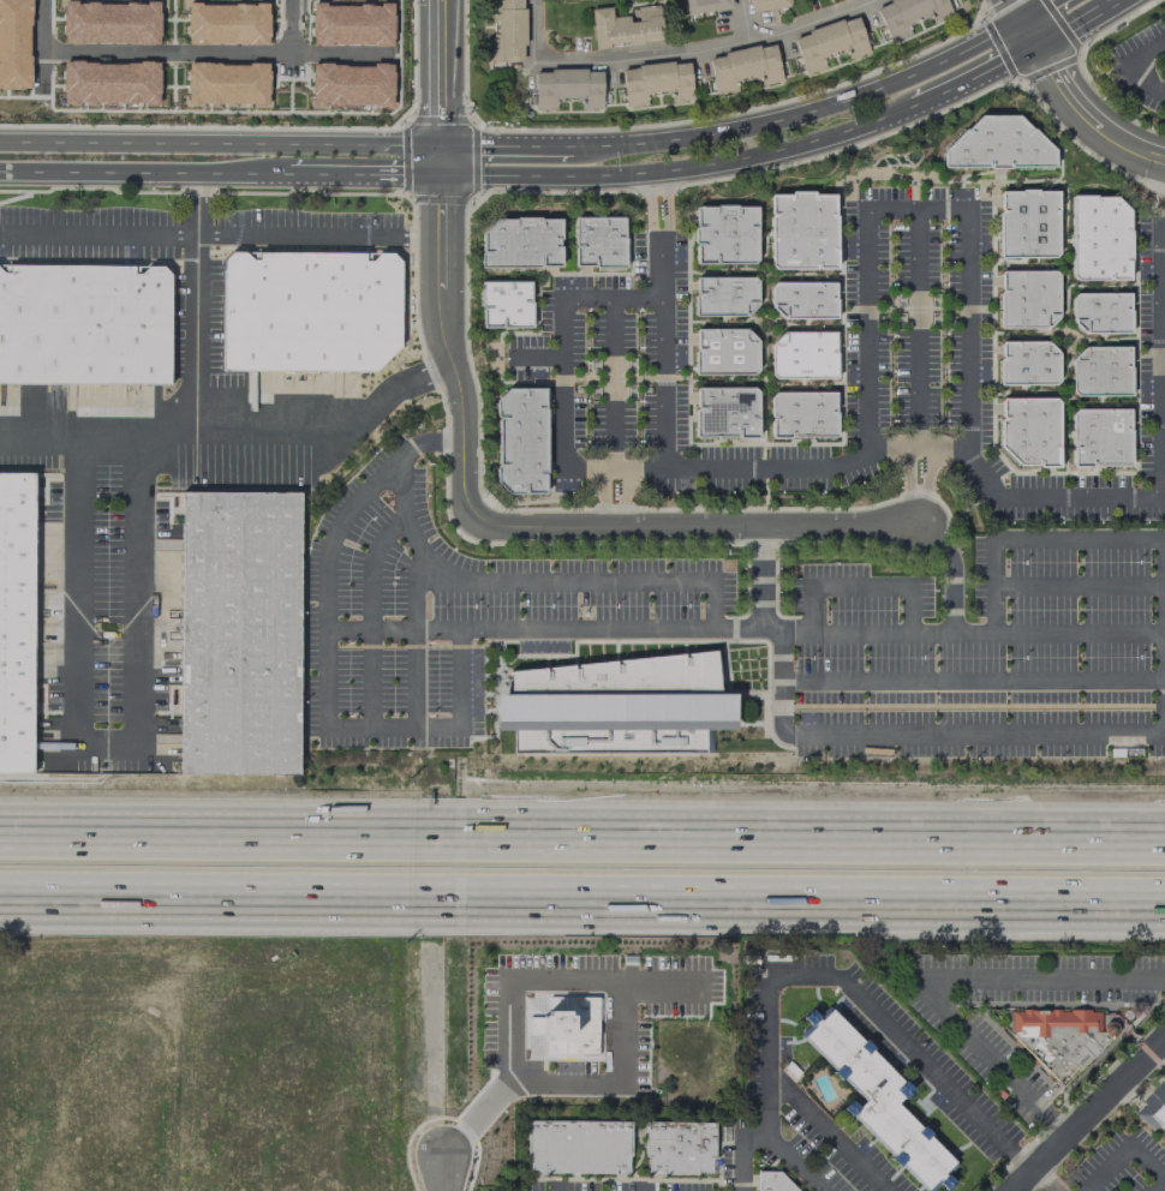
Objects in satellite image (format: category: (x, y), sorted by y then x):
building: (766, 4)
building: (705, 5)
road: (1034, 8)
building: (908, 14)
road: (746, 20)
building: (109, 22)
building: (226, 23)
road: (1077, 23)
building: (351, 24)
road: (42, 25)
building: (625, 26)
building: (506, 31)
road: (536, 31)
building: (829, 43)
building: (14, 44)
road: (709, 49)
road: (165, 52)
road: (309, 54)
road: (1129, 65)
building: (743, 67)
road: (976, 78)
building: (109, 82)
building: (226, 84)
building: (349, 84)
building: (656, 84)
building: (567, 88)
road: (1071, 97)
road: (805, 109)
road: (220, 143)
building: (998, 145)
road: (507, 146)
road: (681, 169)
road: (144, 172)
road: (365, 174)
road: (1163, 193)
road: (920, 210)
building: (1027, 223)
building: (802, 229)
road: (220, 233)
building: (725, 235)
building: (1099, 239)
building: (520, 243)
building: (598, 243)
road: (441, 263)
building: (723, 295)
building: (1027, 298)
building: (802, 299)
building: (506, 305)
building: (309, 311)
building: (1100, 313)
building: (84, 323)
road: (918, 331)
road: (560, 333)
building: (724, 351)
building: (802, 354)
road: (534, 360)
building: (1027, 363)
building: (1100, 371)
road: (214, 409)
road: (610, 412)
building: (725, 412)
building: (802, 413)
building: (1029, 430)
road: (102, 437)
building: (1100, 437)
building: (520, 442)
road: (441, 443)
road: (894, 451)
road: (945, 453)
road: (609, 468)
road: (918, 489)
road: (335, 522)
road: (407, 525)
road: (698, 527)
road: (1076, 537)
road: (374, 567)
road: (952, 573)
road: (688, 576)
road: (760, 581)
road: (860, 585)
road: (1077, 585)
building: (14, 622)
building: (239, 633)
road: (371, 633)
road: (746, 634)
road: (846, 636)
road: (973, 677)
road: (371, 680)
road: (416, 680)
road: (783, 684)
road: (327, 701)
road: (461, 701)
building: (616, 706)
road: (1148, 726)
road: (109, 746)
road: (202, 842)
road: (437, 843)
road: (818, 845)
road: (202, 894)
road: (437, 896)
road: (818, 899)
road: (937, 977)
road: (518, 988)
road: (866, 1005)
building: (1061, 1037)
road: (622, 1085)
building: (877, 1099)
building: (1152, 1108)
road: (1089, 1114)
road: (1057, 1129)
road: (826, 1131)
road: (770, 1139)
building: (578, 1145)
building: (680, 1145)
road: (1123, 1149)
road: (739, 1151)
road: (1022, 1162)
road: (449, 1173)
road: (1051, 1179)
building: (772, 1181)
road: (1157, 1185)

